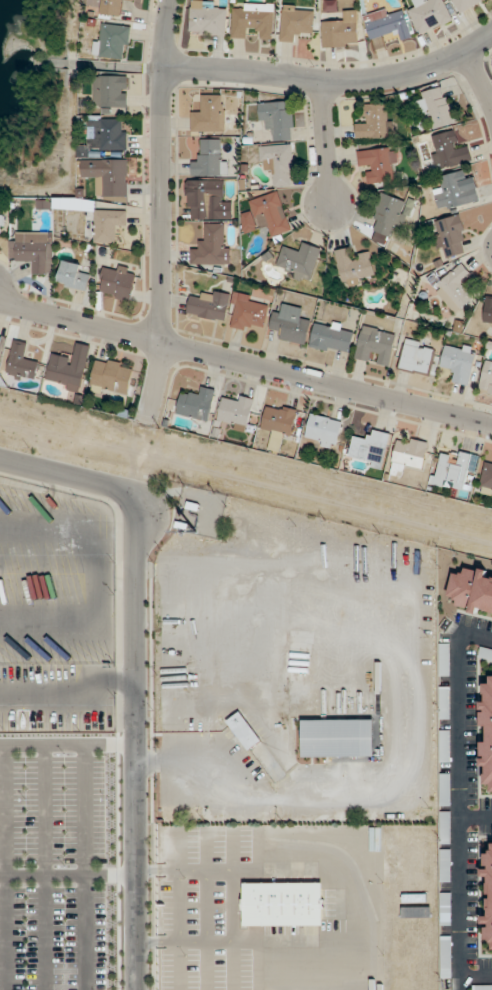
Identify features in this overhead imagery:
building: (135, 0)
building: (464, 4)
building: (111, 7)
building: (430, 14)
building: (207, 18)
building: (253, 20)
building: (296, 22)
building: (389, 24)
building: (341, 31)
building: (113, 40)
road: (330, 78)
road: (479, 78)
building: (111, 93)
building: (437, 106)
building: (209, 114)
building: (278, 119)
building: (375, 122)
building: (107, 133)
road: (326, 139)
building: (448, 150)
building: (209, 158)
building: (279, 162)
building: (378, 164)
building: (108, 175)
building: (456, 191)
building: (207, 200)
building: (75, 203)
road: (160, 209)
building: (271, 212)
building: (389, 215)
building: (1, 221)
building: (108, 224)
building: (450, 236)
building: (212, 246)
building: (34, 250)
building: (298, 261)
building: (355, 266)
building: (73, 276)
building: (117, 281)
building: (455, 288)
building: (210, 305)
building: (488, 312)
building: (250, 313)
building: (290, 324)
building: (332, 337)
building: (1, 343)
building: (376, 344)
building: (417, 356)
building: (22, 362)
building: (459, 362)
road: (244, 363)
building: (69, 367)
building: (112, 375)
building: (487, 376)
building: (197, 404)
building: (235, 411)
building: (279, 419)
building: (323, 430)
building: (370, 448)
building: (409, 454)
building: (454, 470)
building: (487, 476)
building: (472, 588)
building: (485, 655)
building: (444, 659)
road: (135, 675)
building: (445, 702)
building: (243, 730)
building: (490, 734)
building: (338, 738)
building: (445, 746)
building: (445, 789)
road: (456, 797)
road: (474, 818)
building: (445, 827)
building: (375, 839)
building: (446, 865)
building: (488, 895)
building: (282, 904)
building: (446, 907)
road: (475, 976)

